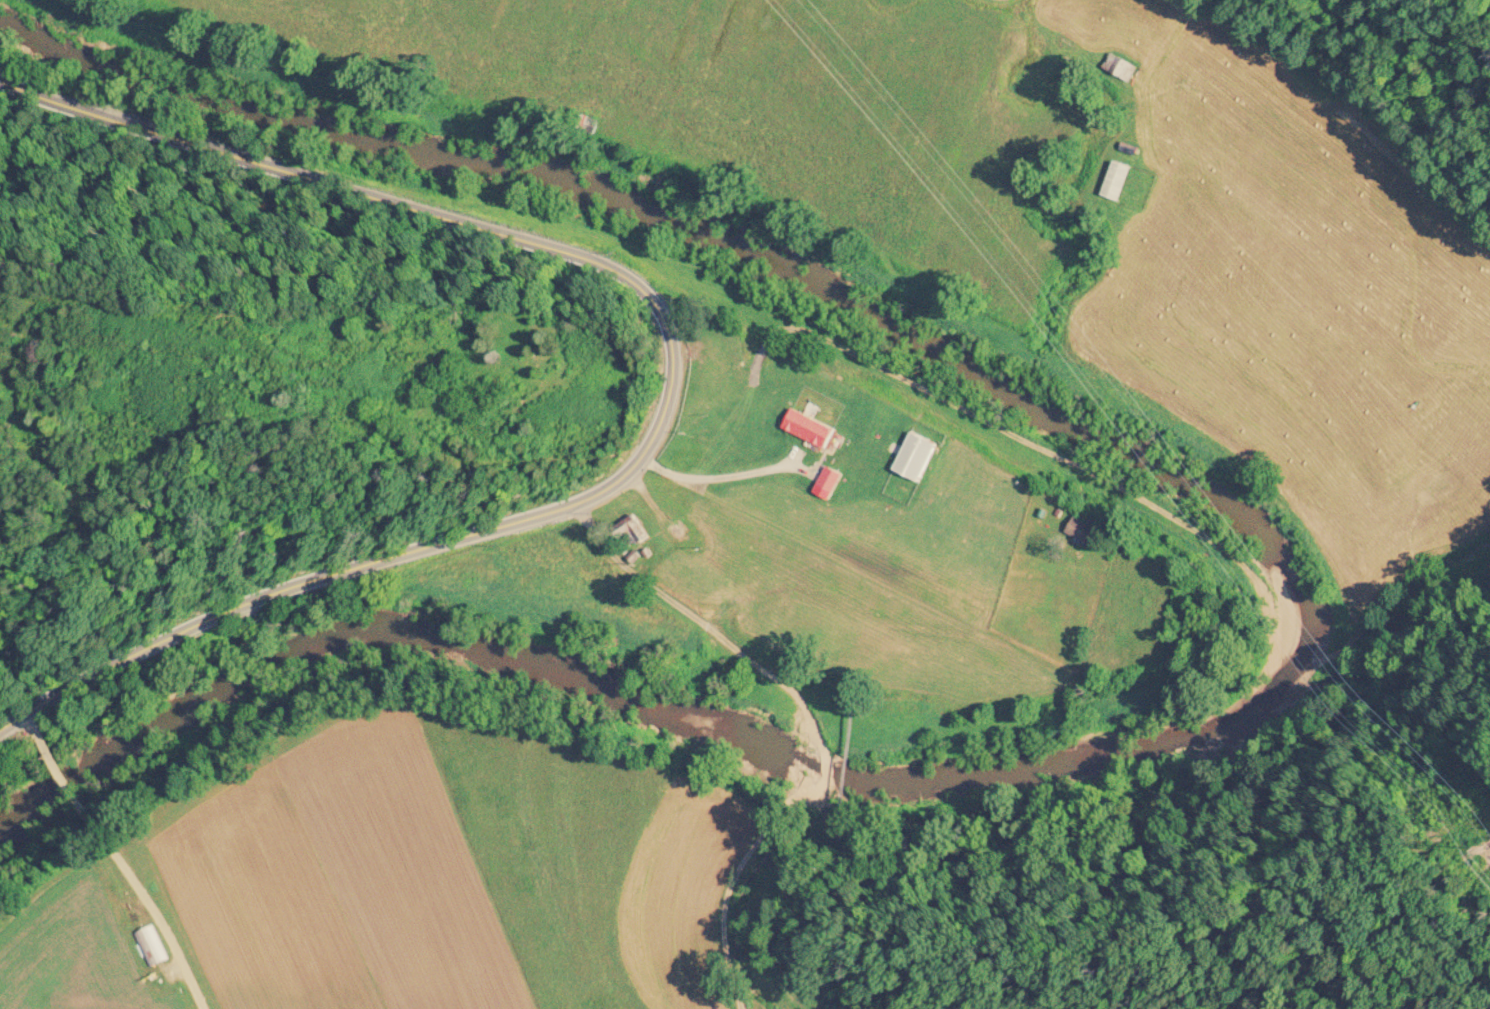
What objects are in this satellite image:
building: (1121, 68)
building: (1118, 181)
road: (669, 382)
building: (812, 429)
building: (919, 459)
road: (674, 474)
building: (633, 532)
building: (1086, 533)
road: (681, 601)
river: (1311, 606)
building: (150, 947)

